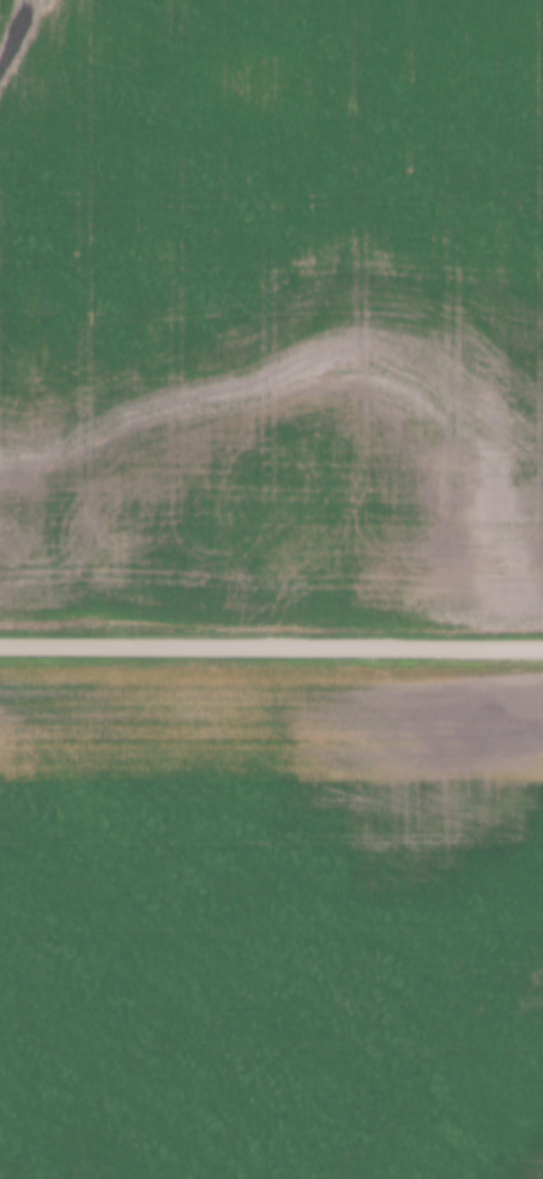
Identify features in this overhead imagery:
road: (271, 642)

